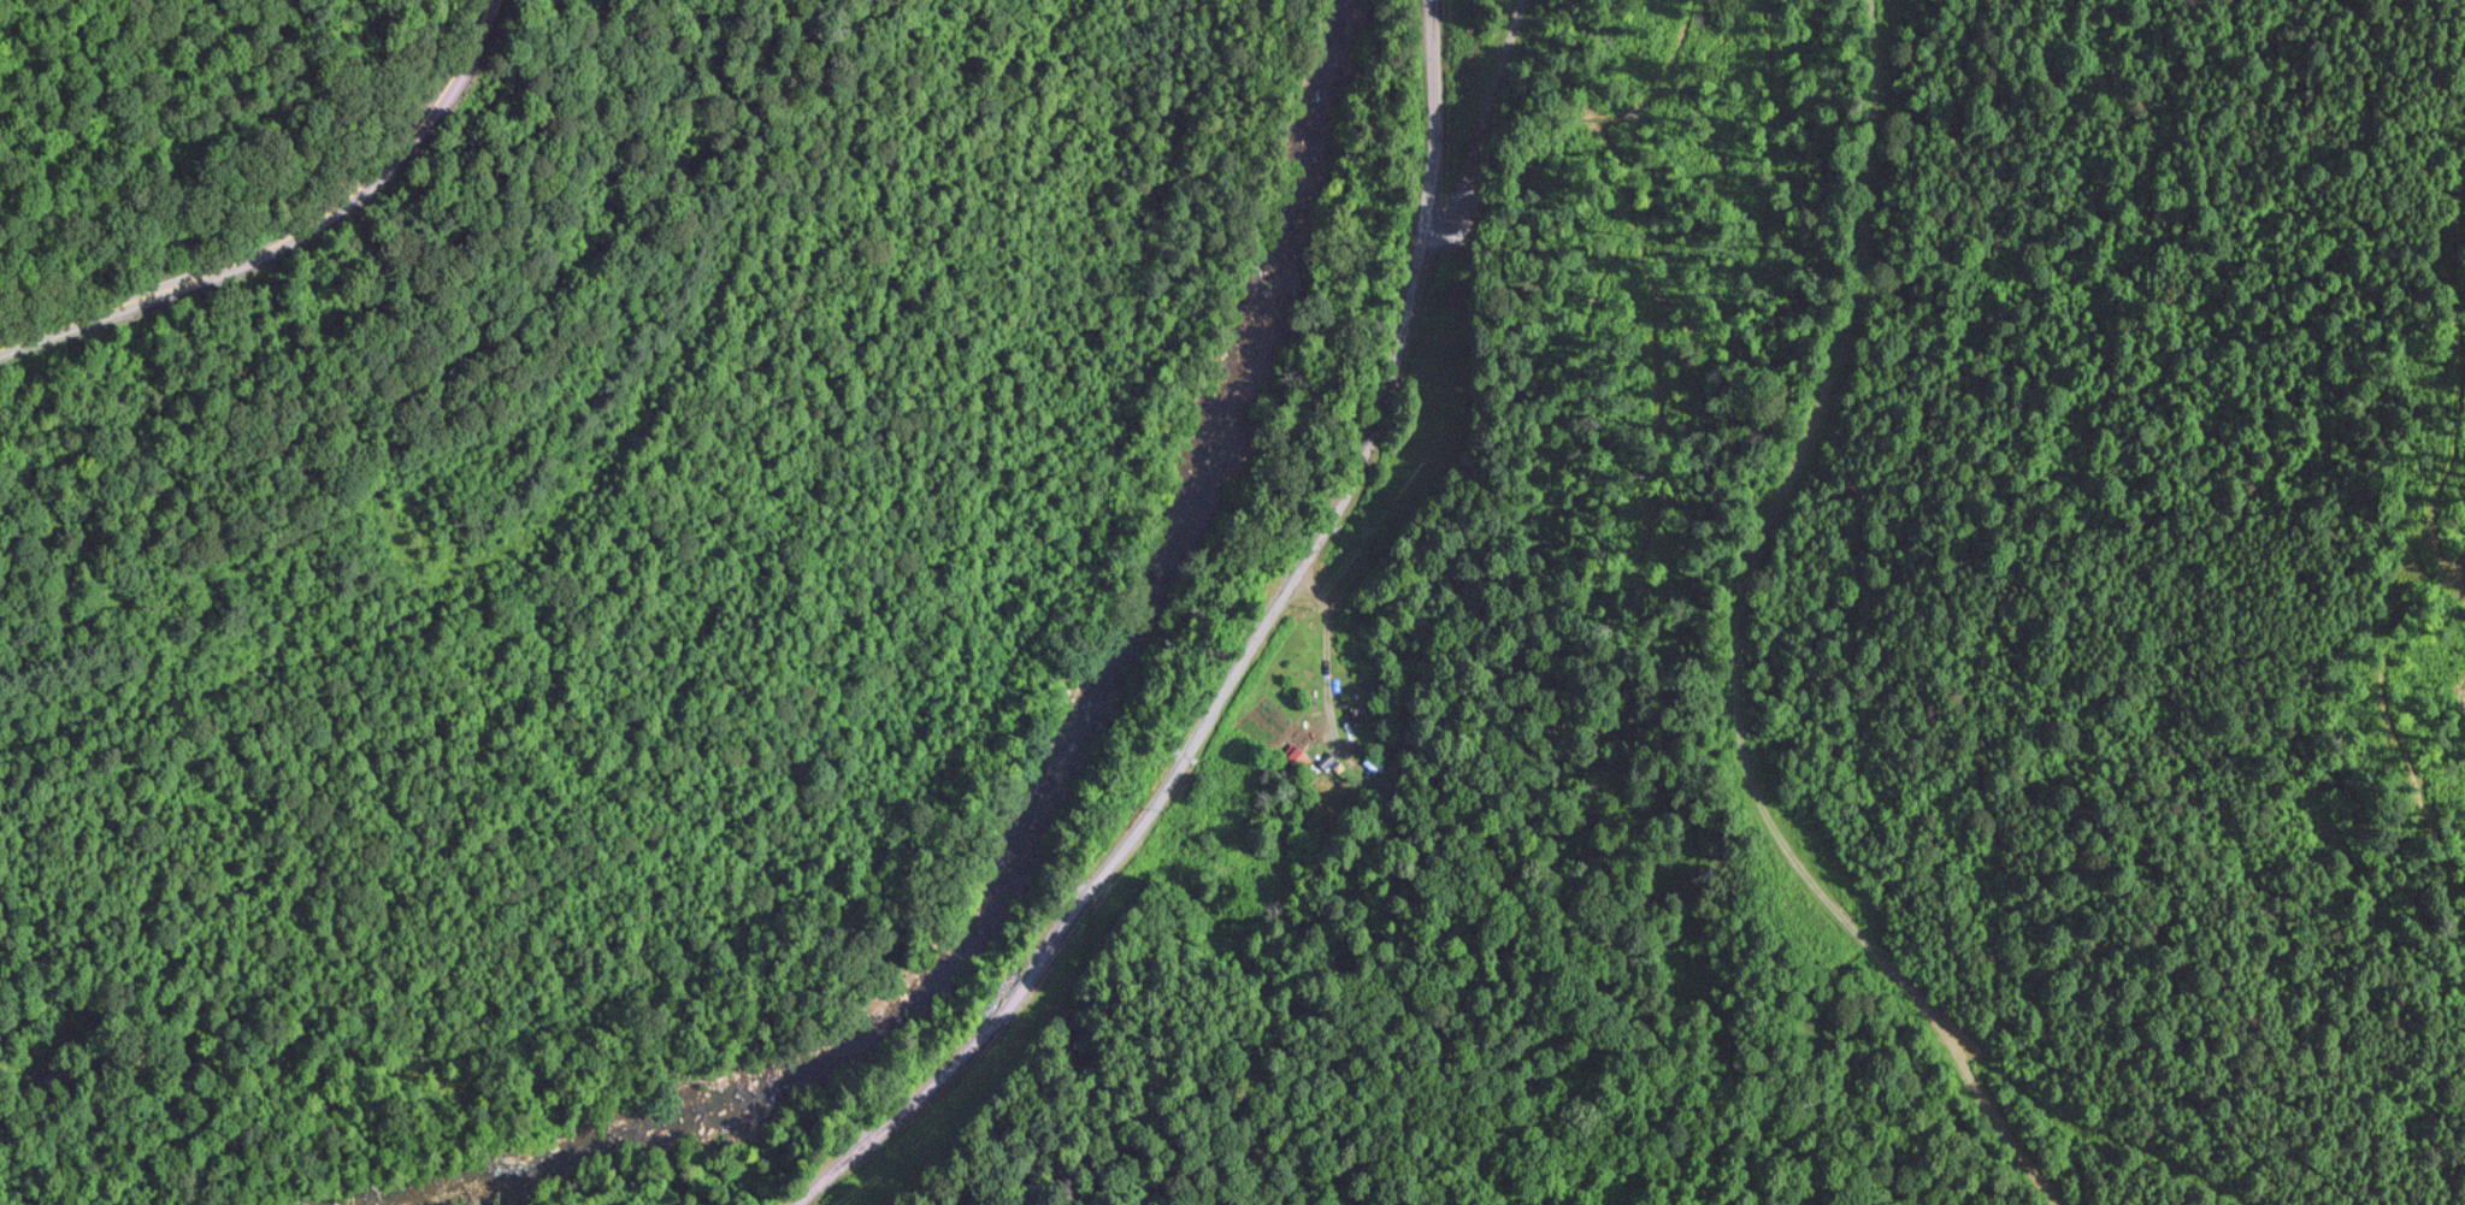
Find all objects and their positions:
road: (1480, 119)
road: (291, 231)
road: (1240, 660)

